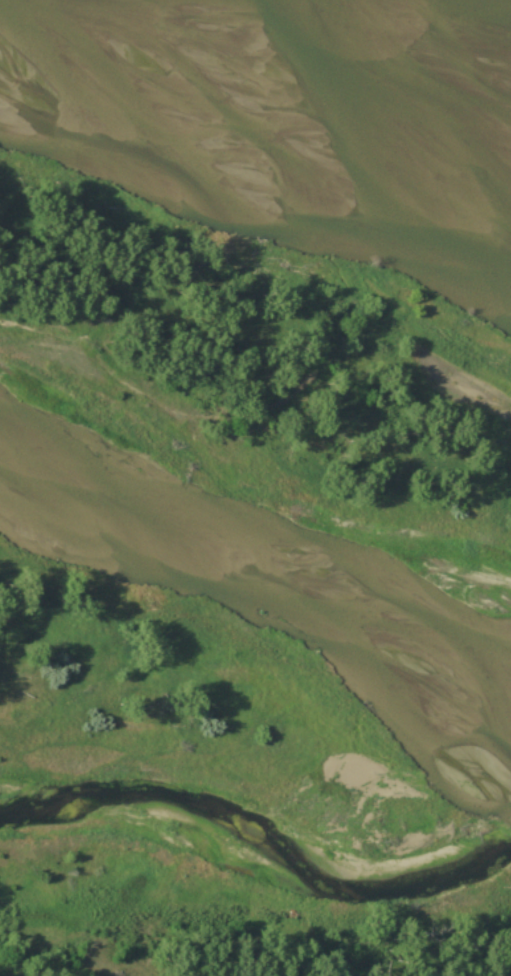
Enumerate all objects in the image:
river: (255, 144)

